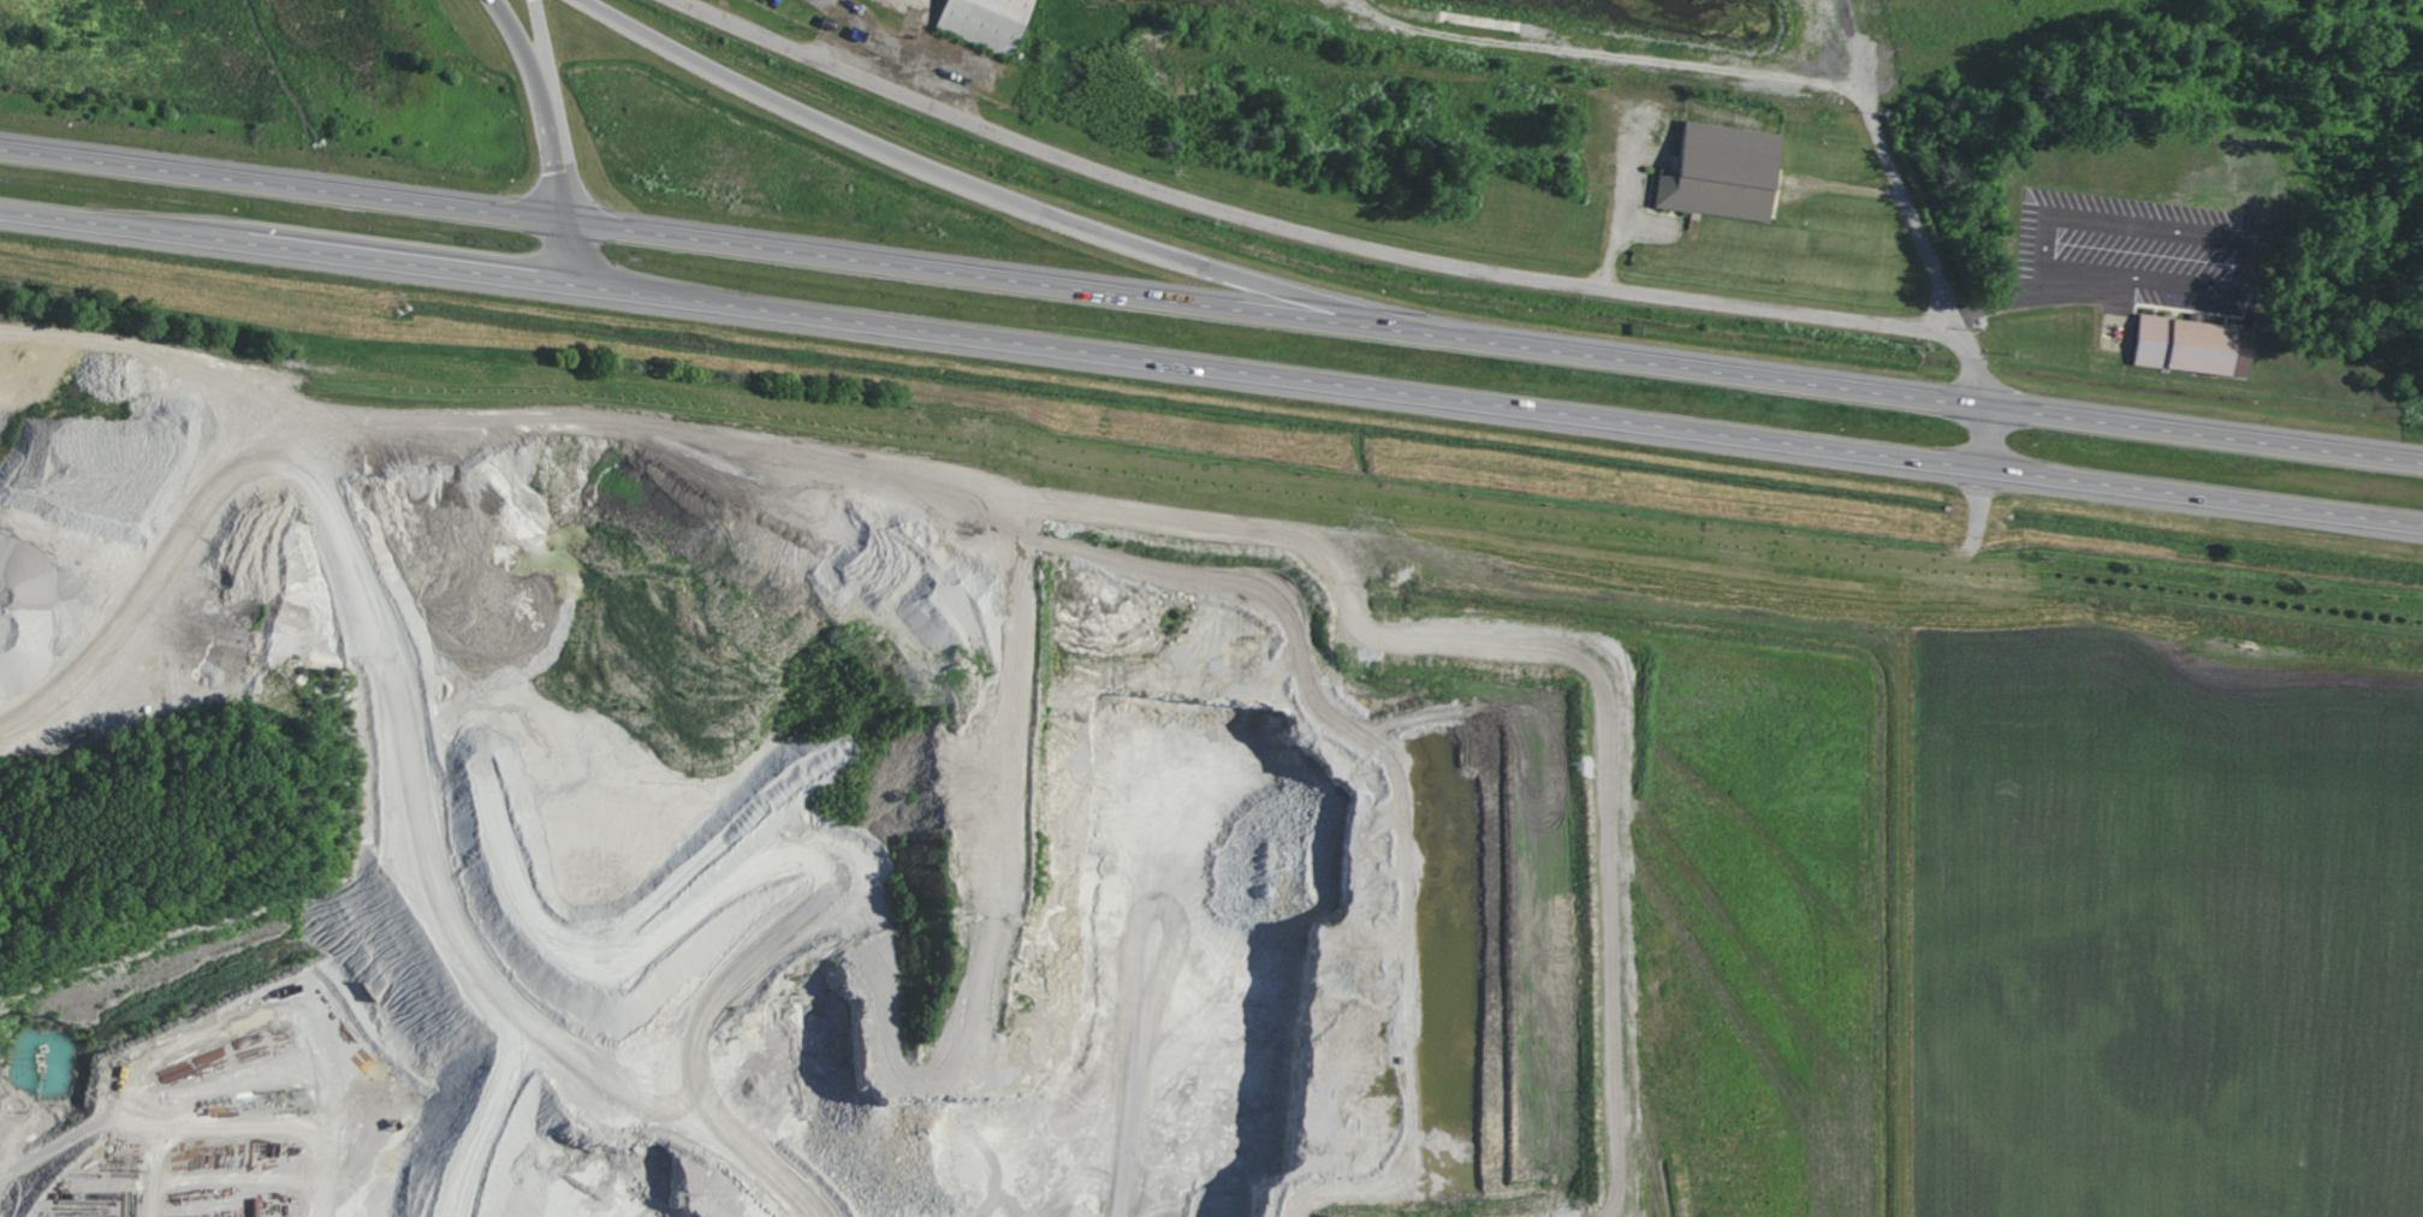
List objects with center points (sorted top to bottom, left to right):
railway: (2413, 1)
building: (988, 22)
road: (523, 52)
road: (544, 53)
road: (1861, 54)
road: (558, 165)
road: (1014, 202)
road: (528, 216)
road: (568, 253)
road: (527, 278)
building: (2198, 345)
road: (1739, 374)
road: (1738, 435)
road: (1959, 552)
quarry: (504, 799)
park: (150, 823)
road: (1444, 861)

